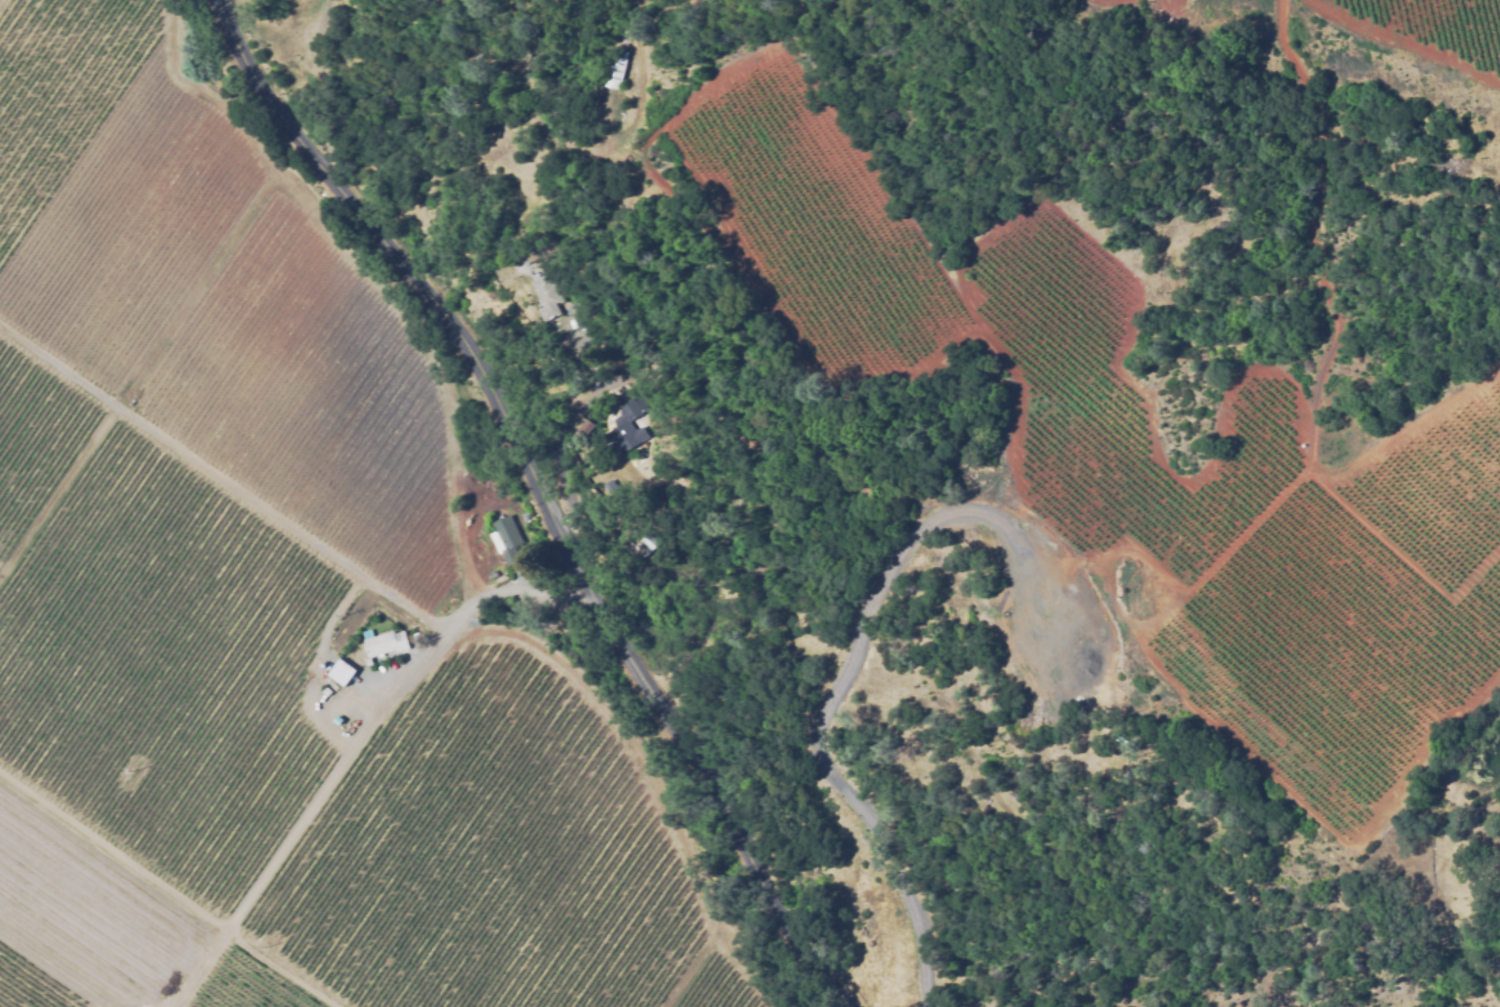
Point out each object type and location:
building: (614, 69)
building: (548, 295)
building: (577, 306)
building: (609, 348)
building: (582, 429)
building: (626, 429)
building: (610, 487)
road: (540, 504)
building: (477, 517)
building: (509, 535)
building: (639, 541)
building: (492, 573)
road: (472, 606)
building: (368, 633)
building: (387, 642)
building: (369, 661)
building: (343, 671)
building: (325, 689)
building: (337, 721)
building: (1119, 740)

